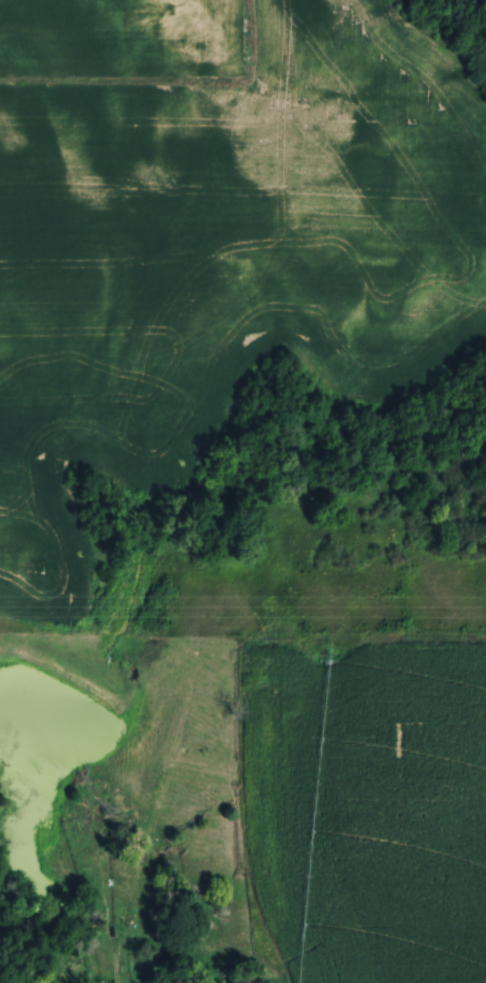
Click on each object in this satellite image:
road: (121, 976)

